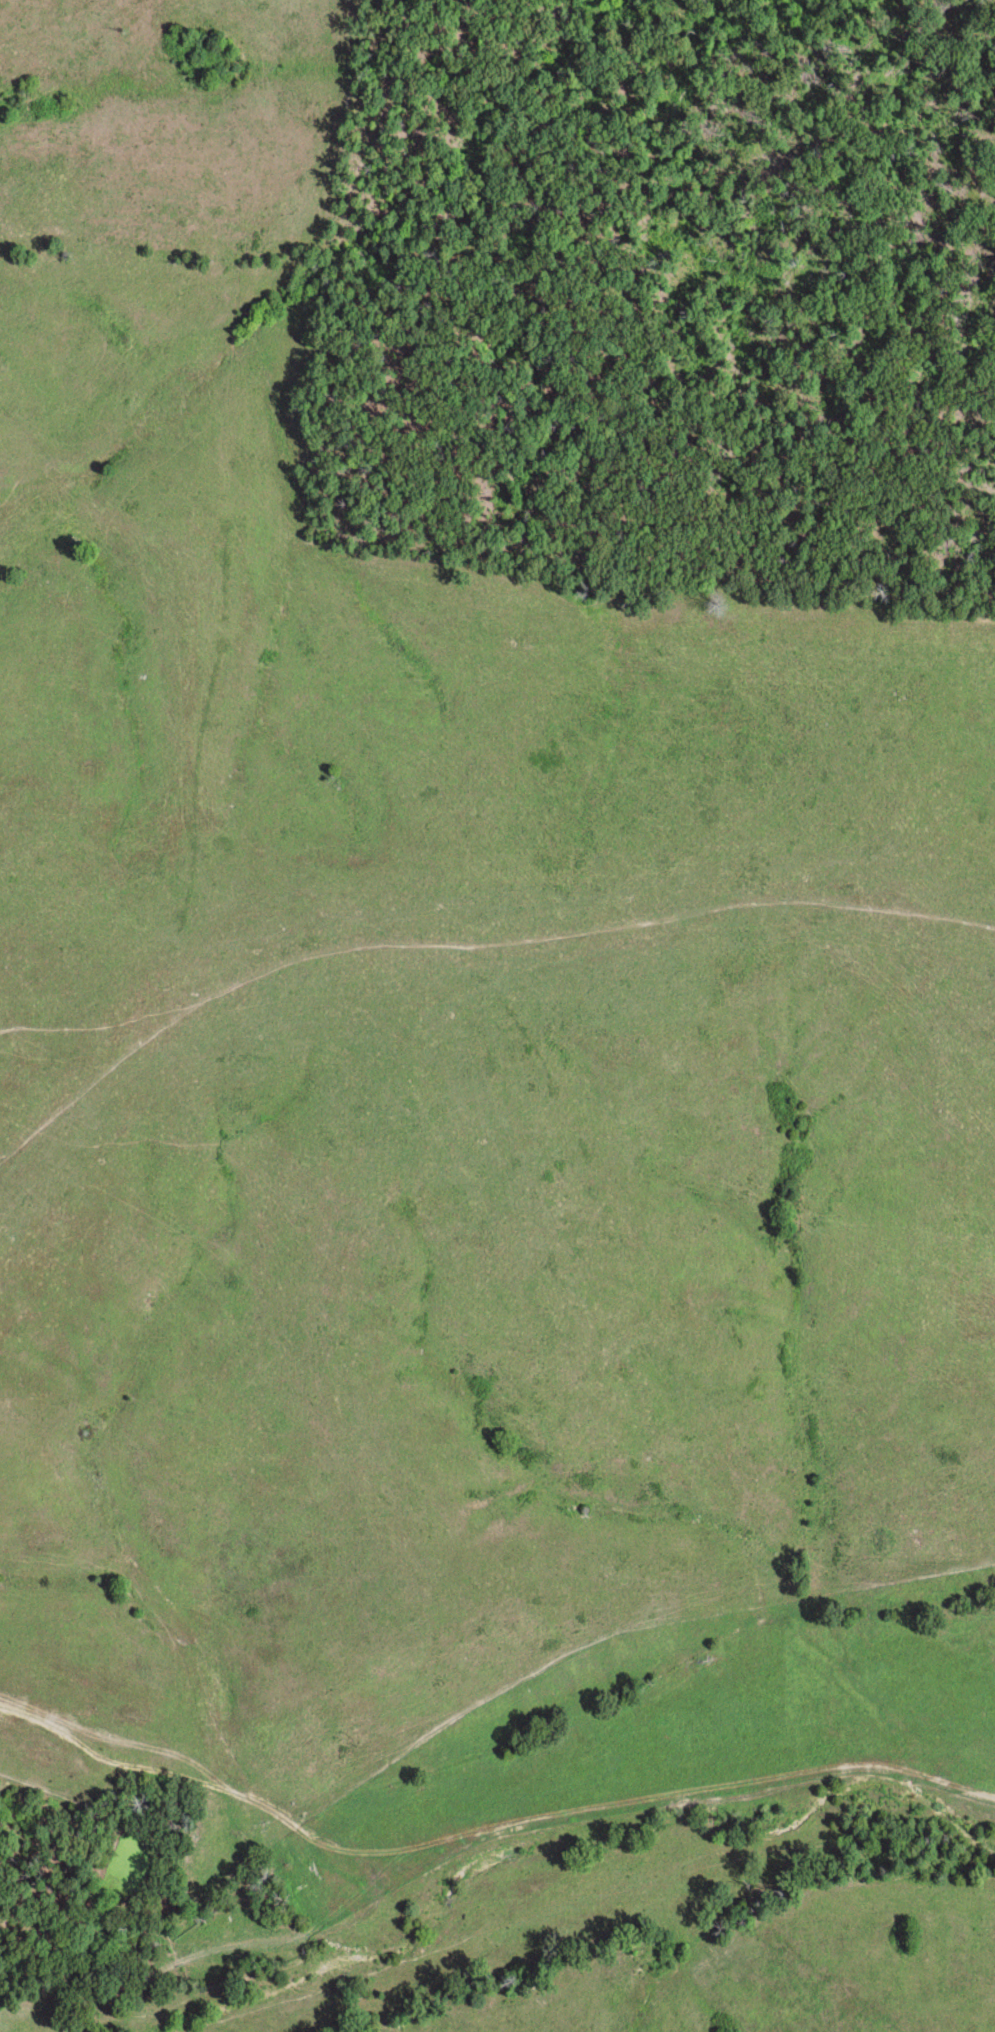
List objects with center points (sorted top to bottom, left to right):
road: (174, 1772)

